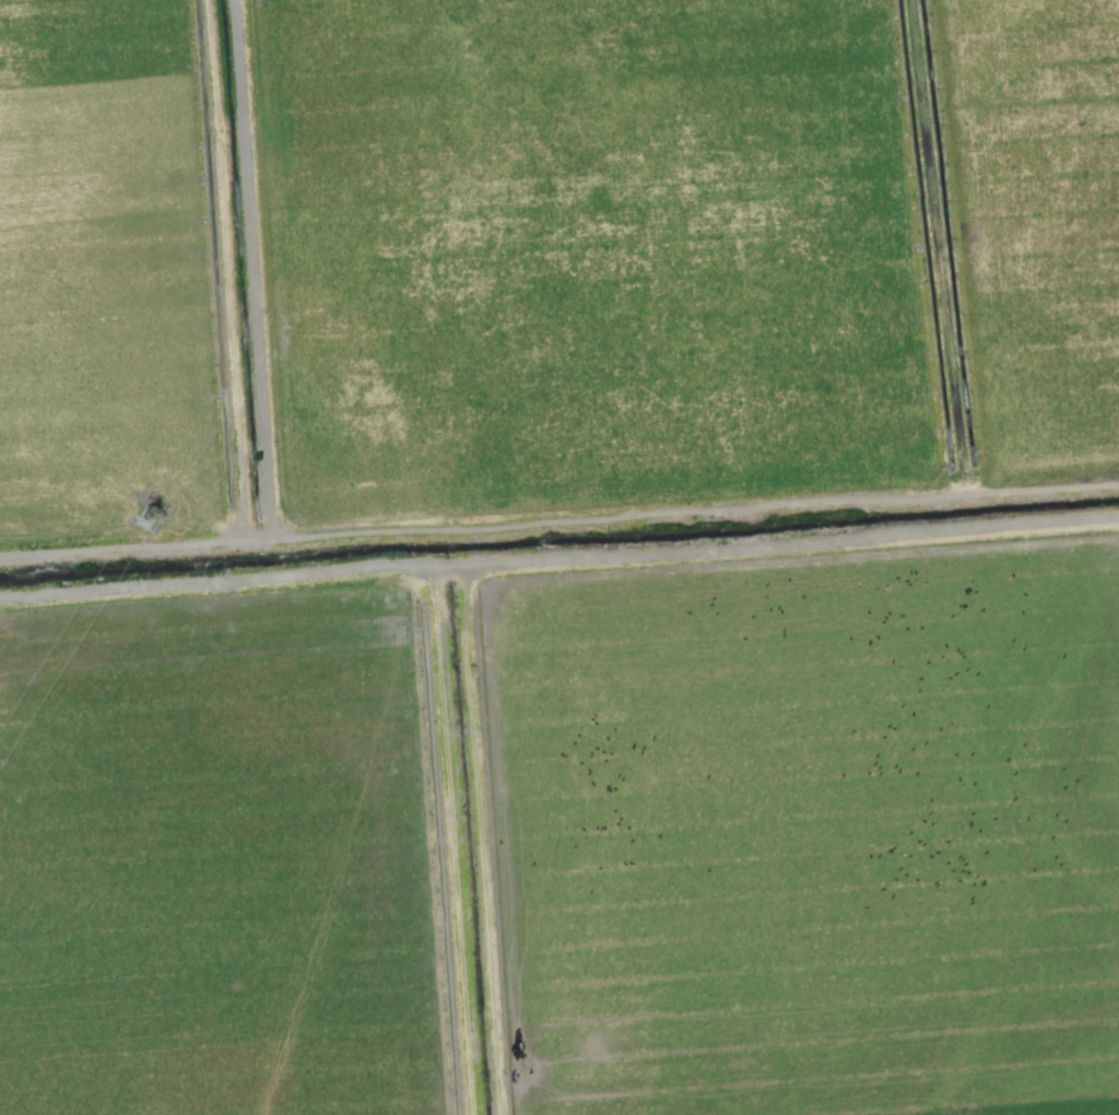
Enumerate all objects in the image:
power tower: (143, 537)

